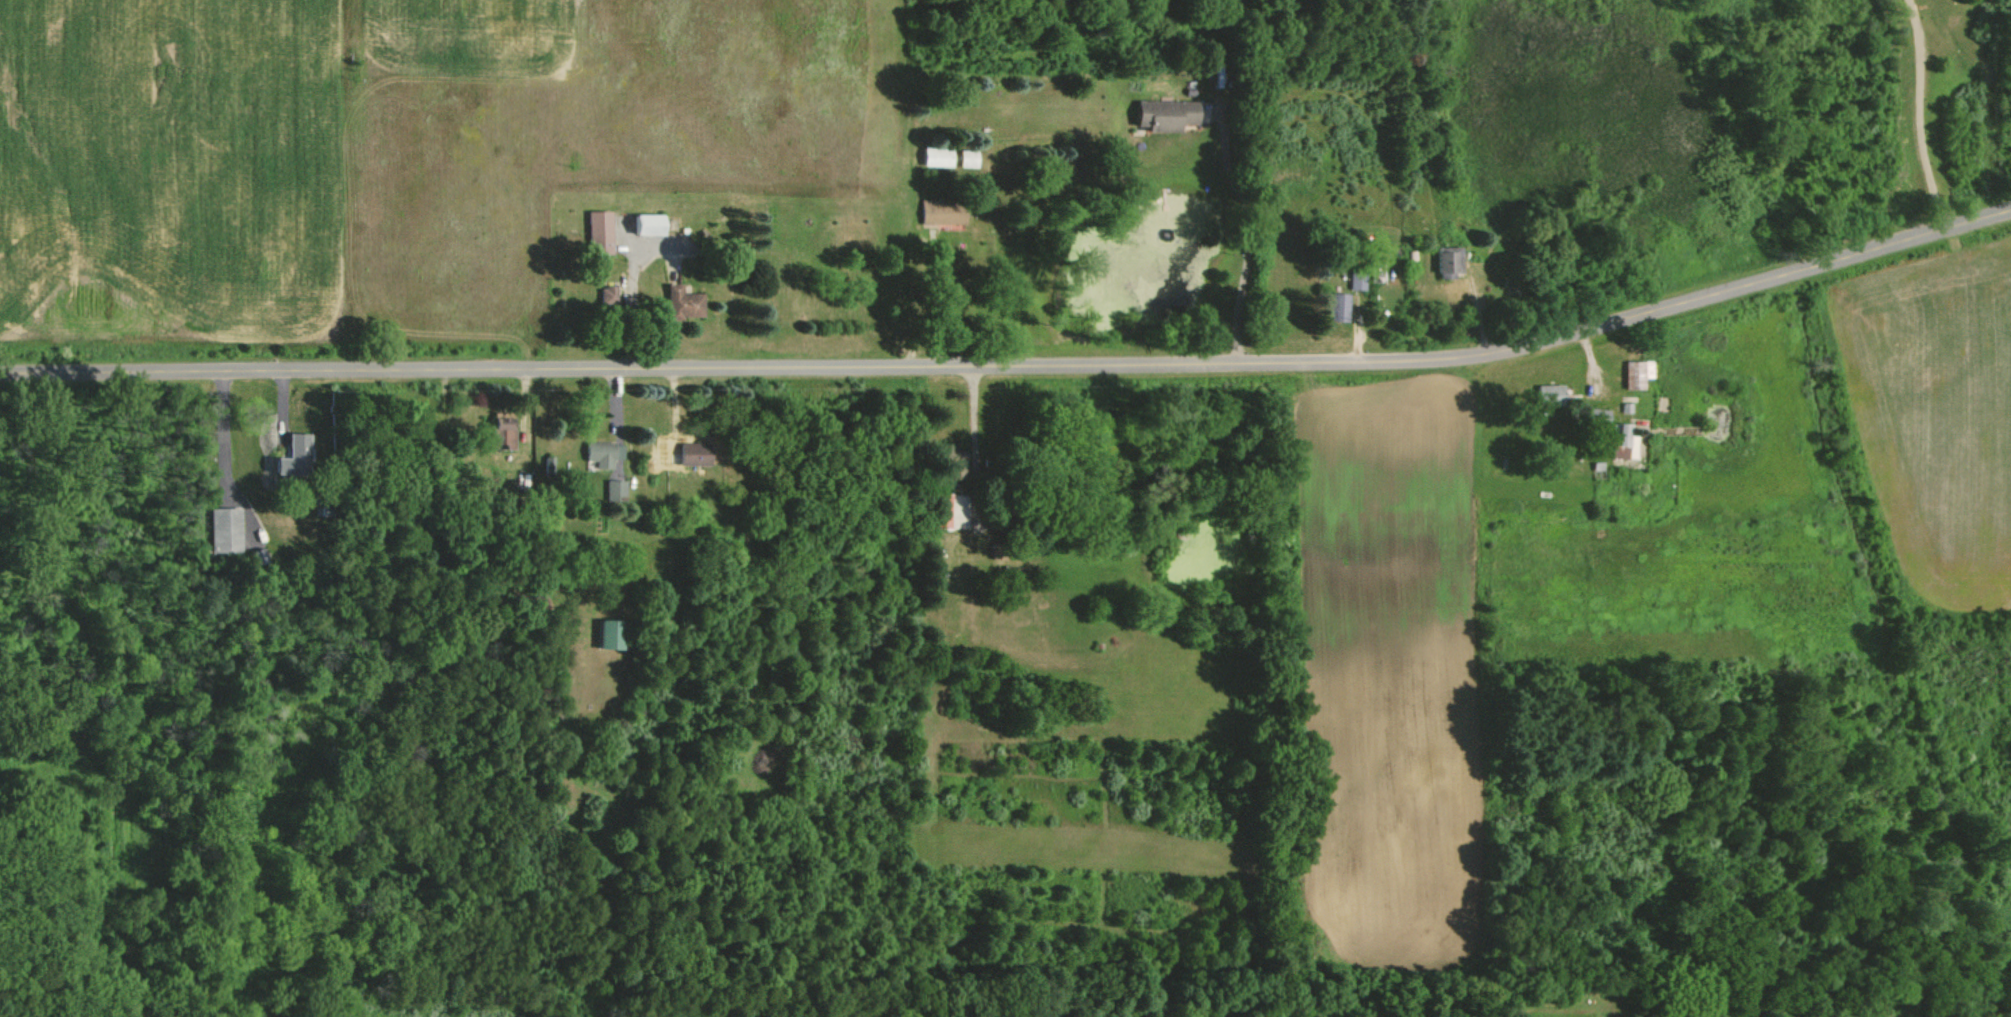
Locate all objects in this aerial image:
building: (1175, 114)
road: (1933, 115)
building: (946, 156)
building: (976, 158)
building: (950, 213)
building: (650, 223)
building: (603, 231)
road: (1260, 235)
building: (1452, 261)
building: (1363, 281)
road: (635, 287)
building: (610, 293)
road: (943, 299)
building: (683, 302)
building: (1342, 306)
road: (1015, 364)
building: (1641, 373)
building: (1553, 394)
building: (1601, 415)
road: (979, 426)
building: (505, 429)
road: (228, 434)
building: (1628, 442)
building: (603, 453)
building: (693, 453)
building: (290, 455)
building: (961, 471)
building: (619, 489)
building: (946, 510)
building: (226, 530)
building: (612, 634)

